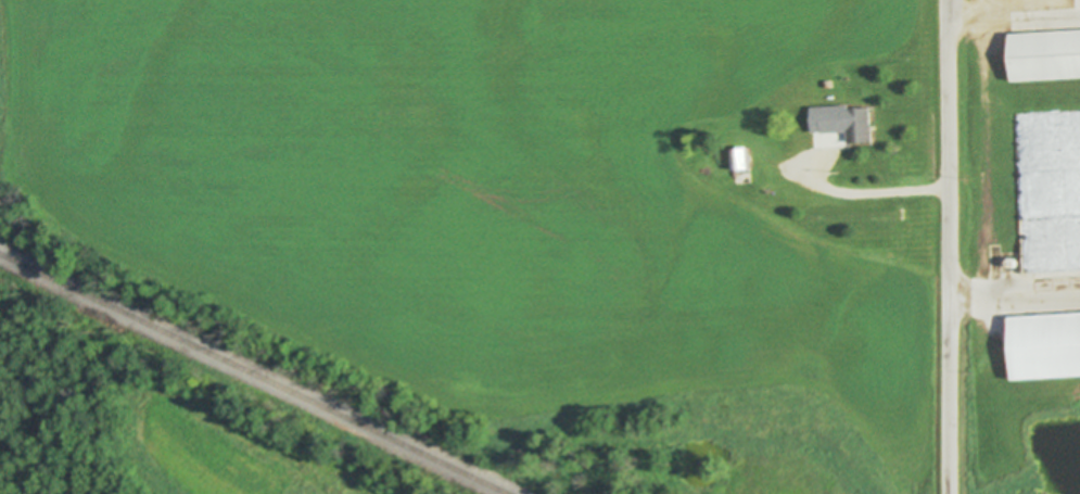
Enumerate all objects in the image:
road: (1016, 13)
building: (1051, 55)
building: (866, 125)
building: (813, 134)
building: (749, 159)
building: (736, 161)
road: (877, 191)
road: (953, 246)
road: (1016, 293)
building: (1051, 345)
railway: (254, 373)

